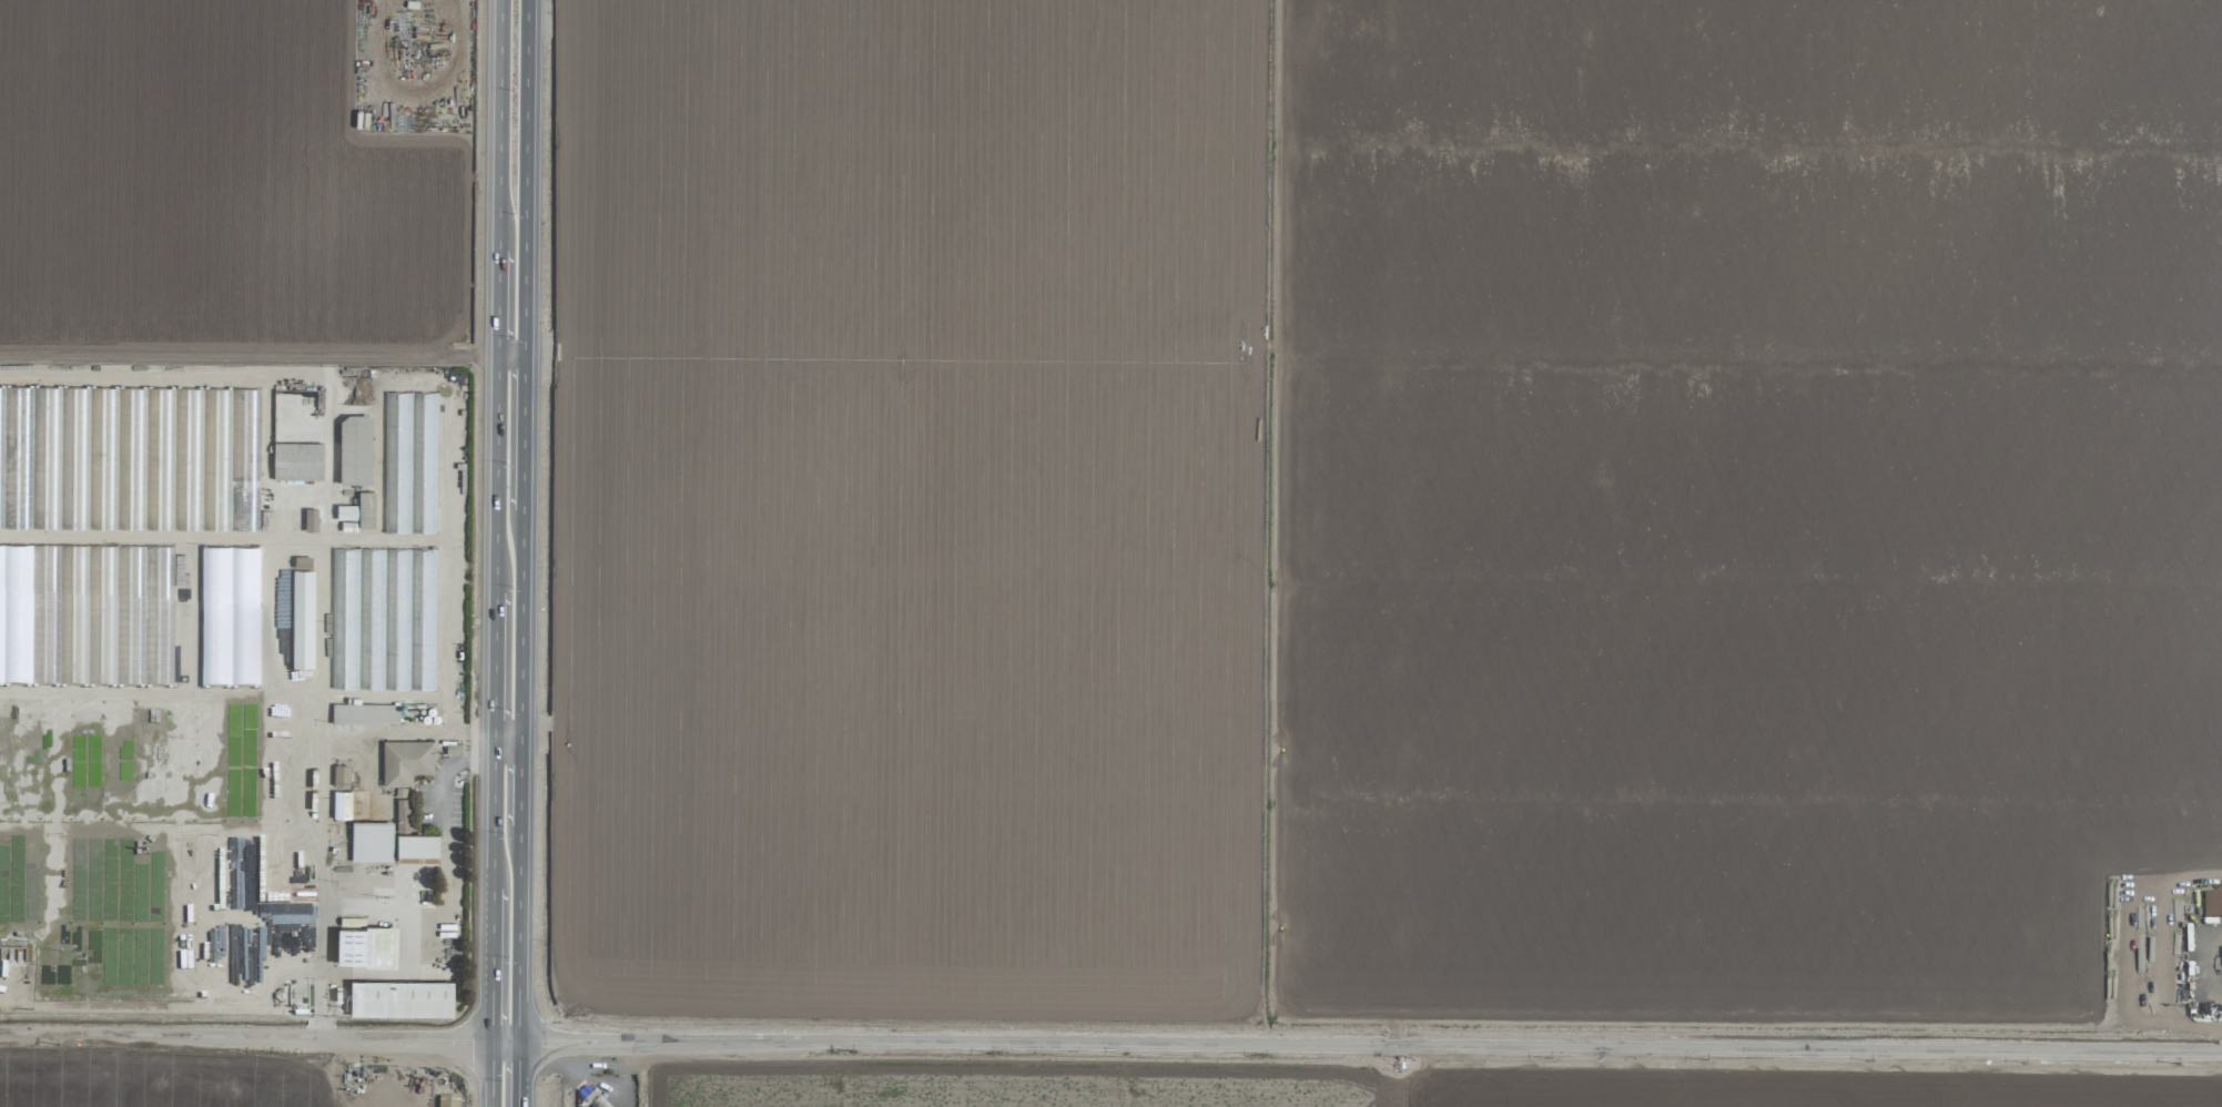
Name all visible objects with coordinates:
road: (499, 125)
road: (497, 302)
road: (510, 352)
building: (52, 448)
building: (355, 450)
building: (297, 461)
building: (410, 463)
road: (496, 471)
building: (359, 510)
building: (311, 520)
crop: (1097, 520)
road: (521, 521)
building: (303, 619)
building: (384, 620)
road: (494, 660)
road: (327, 710)
building: (365, 714)
road: (507, 729)
road: (494, 743)
road: (460, 744)
road: (507, 758)
building: (405, 772)
building: (341, 775)
building: (342, 805)
road: (494, 824)
road: (162, 827)
building: (372, 842)
building: (417, 847)
building: (2212, 905)
road: (335, 907)
road: (413, 911)
building: (366, 946)
road: (491, 966)
building: (402, 998)
road: (169, 1006)
road: (244, 1038)
road: (504, 1043)
road: (576, 1044)
road: (1428, 1050)
road: (489, 1074)
road: (517, 1075)
building: (448, 1101)

